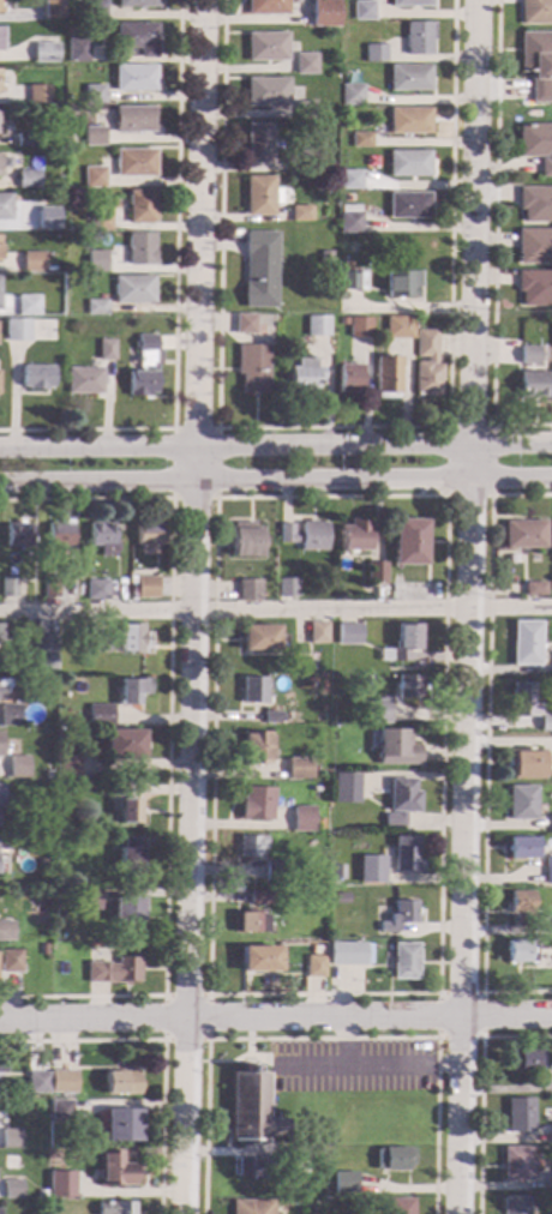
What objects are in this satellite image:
building: (410, 2)
building: (137, 4)
building: (266, 7)
building: (52, 10)
building: (95, 10)
building: (1, 11)
building: (362, 11)
building: (535, 11)
building: (323, 13)
building: (137, 37)
building: (416, 38)
building: (266, 47)
building: (78, 50)
building: (374, 52)
building: (44, 53)
building: (305, 64)
building: (536, 64)
building: (134, 78)
building: (409, 78)
building: (1, 90)
building: (269, 91)
building: (37, 95)
building: (94, 95)
building: (350, 95)
building: (305, 110)
building: (133, 120)
building: (408, 121)
building: (0, 132)
building: (94, 137)
building: (24, 139)
building: (360, 139)
building: (258, 143)
building: (536, 145)
building: (311, 161)
building: (134, 163)
building: (408, 163)
building: (0, 175)
building: (94, 178)
building: (26, 180)
building: (349, 180)
building: (259, 196)
building: (535, 204)
building: (5, 206)
building: (142, 206)
building: (407, 206)
building: (300, 214)
building: (349, 218)
building: (40, 222)
building: (100, 222)
road: (492, 242)
building: (534, 246)
building: (140, 250)
building: (31, 262)
building: (96, 262)
building: (259, 270)
building: (352, 281)
building: (401, 284)
building: (534, 288)
building: (133, 289)
road: (174, 300)
building: (26, 305)
building: (96, 308)
building: (244, 324)
building: (313, 324)
building: (358, 327)
building: (398, 327)
building: (16, 331)
building: (106, 349)
building: (528, 355)
building: (426, 365)
building: (144, 367)
building: (253, 368)
building: (304, 375)
building: (36, 377)
building: (386, 377)
building: (84, 380)
building: (349, 380)
building: (532, 385)
road: (330, 428)
road: (275, 447)
road: (276, 479)
road: (445, 495)
road: (446, 495)
road: (172, 497)
building: (59, 533)
building: (18, 534)
building: (148, 534)
building: (305, 535)
building: (524, 535)
building: (551, 536)
building: (355, 537)
building: (103, 539)
building: (246, 540)
building: (408, 542)
building: (376, 573)
building: (287, 587)
building: (8, 588)
building: (50, 588)
building: (146, 588)
building: (534, 589)
building: (97, 590)
building: (248, 590)
road: (196, 607)
road: (468, 607)
road: (276, 608)
building: (318, 632)
building: (349, 635)
building: (131, 638)
building: (262, 639)
building: (98, 642)
building: (407, 642)
building: (526, 643)
building: (43, 653)
building: (384, 655)
building: (551, 661)
building: (312, 679)
building: (47, 681)
building: (2, 685)
building: (409, 686)
building: (133, 690)
building: (253, 691)
building: (523, 699)
building: (374, 711)
building: (100, 715)
building: (10, 716)
building: (272, 717)
building: (546, 723)
road: (167, 743)
building: (124, 745)
building: (396, 747)
building: (254, 749)
road: (485, 749)
building: (528, 765)
building: (68, 767)
building: (18, 768)
building: (299, 769)
building: (47, 775)
building: (347, 788)
building: (61, 789)
building: (402, 801)
building: (523, 803)
building: (257, 804)
building: (126, 805)
building: (302, 819)
building: (318, 823)
building: (551, 824)
building: (47, 843)
building: (251, 846)
building: (523, 848)
building: (131, 854)
building: (406, 859)
building: (371, 869)
building: (275, 871)
building: (337, 871)
building: (548, 872)
building: (46, 893)
building: (90, 899)
building: (260, 899)
building: (341, 899)
building: (520, 903)
building: (128, 910)
building: (398, 916)
building: (250, 922)
building: (6, 931)
building: (42, 950)
building: (316, 950)
building: (521, 951)
building: (348, 952)
building: (259, 960)
building: (10, 961)
building: (404, 961)
building: (314, 967)
building: (340, 969)
building: (113, 970)
road: (275, 1017)
road: (438, 1038)
road: (323, 1039)
road: (163, 1040)
road: (346, 1041)
road: (162, 1045)
road: (247, 1047)
road: (240, 1056)
building: (526, 1060)
road: (366, 1065)
building: (1, 1066)
building: (62, 1082)
building: (122, 1082)
building: (37, 1083)
road: (481, 1090)
building: (252, 1107)
building: (61, 1111)
building: (520, 1116)
building: (122, 1125)
building: (551, 1132)
building: (11, 1138)
building: (295, 1153)
building: (394, 1160)
building: (516, 1164)
building: (253, 1167)
building: (300, 1167)
building: (115, 1170)
building: (344, 1183)
building: (550, 1185)
building: (67, 1188)
building: (12, 1189)
building: (515, 1206)
building: (115, 1207)
building: (252, 1207)
building: (400, 1207)

